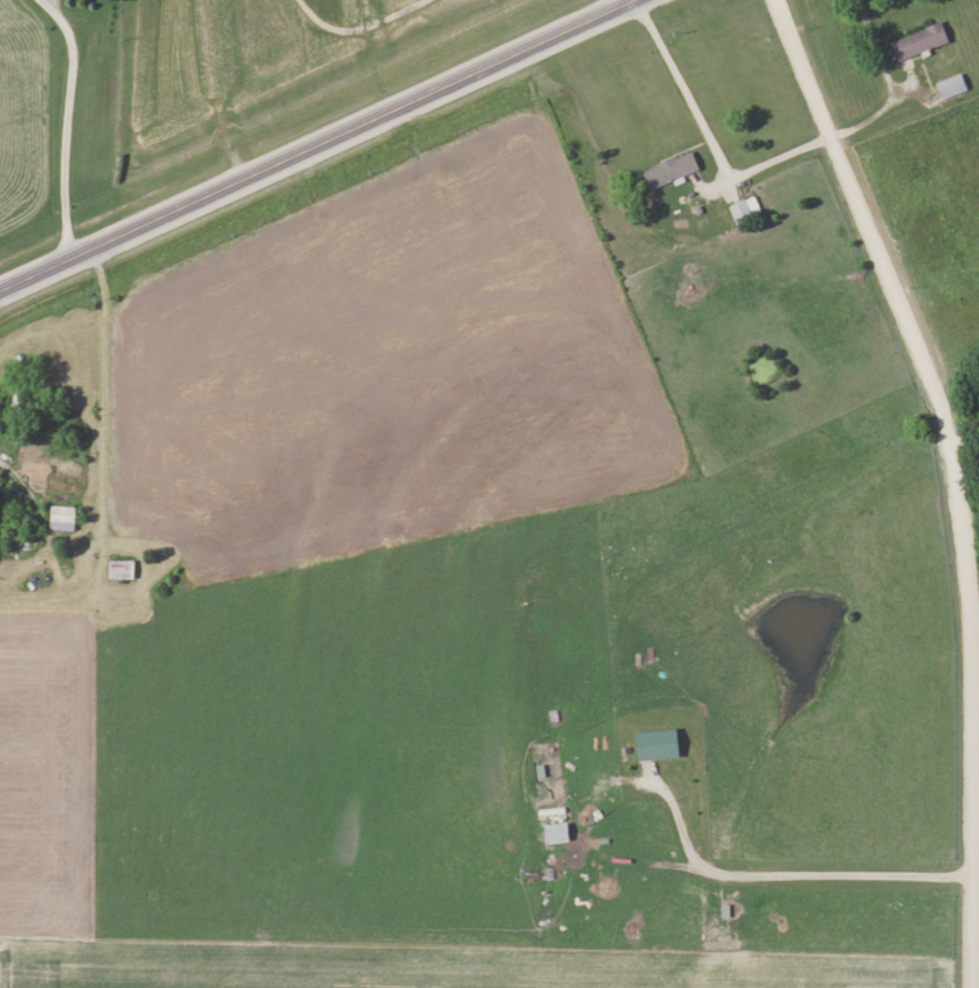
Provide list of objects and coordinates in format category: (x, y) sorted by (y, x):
building: (922, 40)
road: (882, 81)
building: (954, 84)
road: (64, 126)
road: (705, 140)
road: (314, 145)
building: (674, 169)
building: (747, 210)
road: (954, 478)
building: (124, 568)
building: (661, 743)
road: (776, 876)

